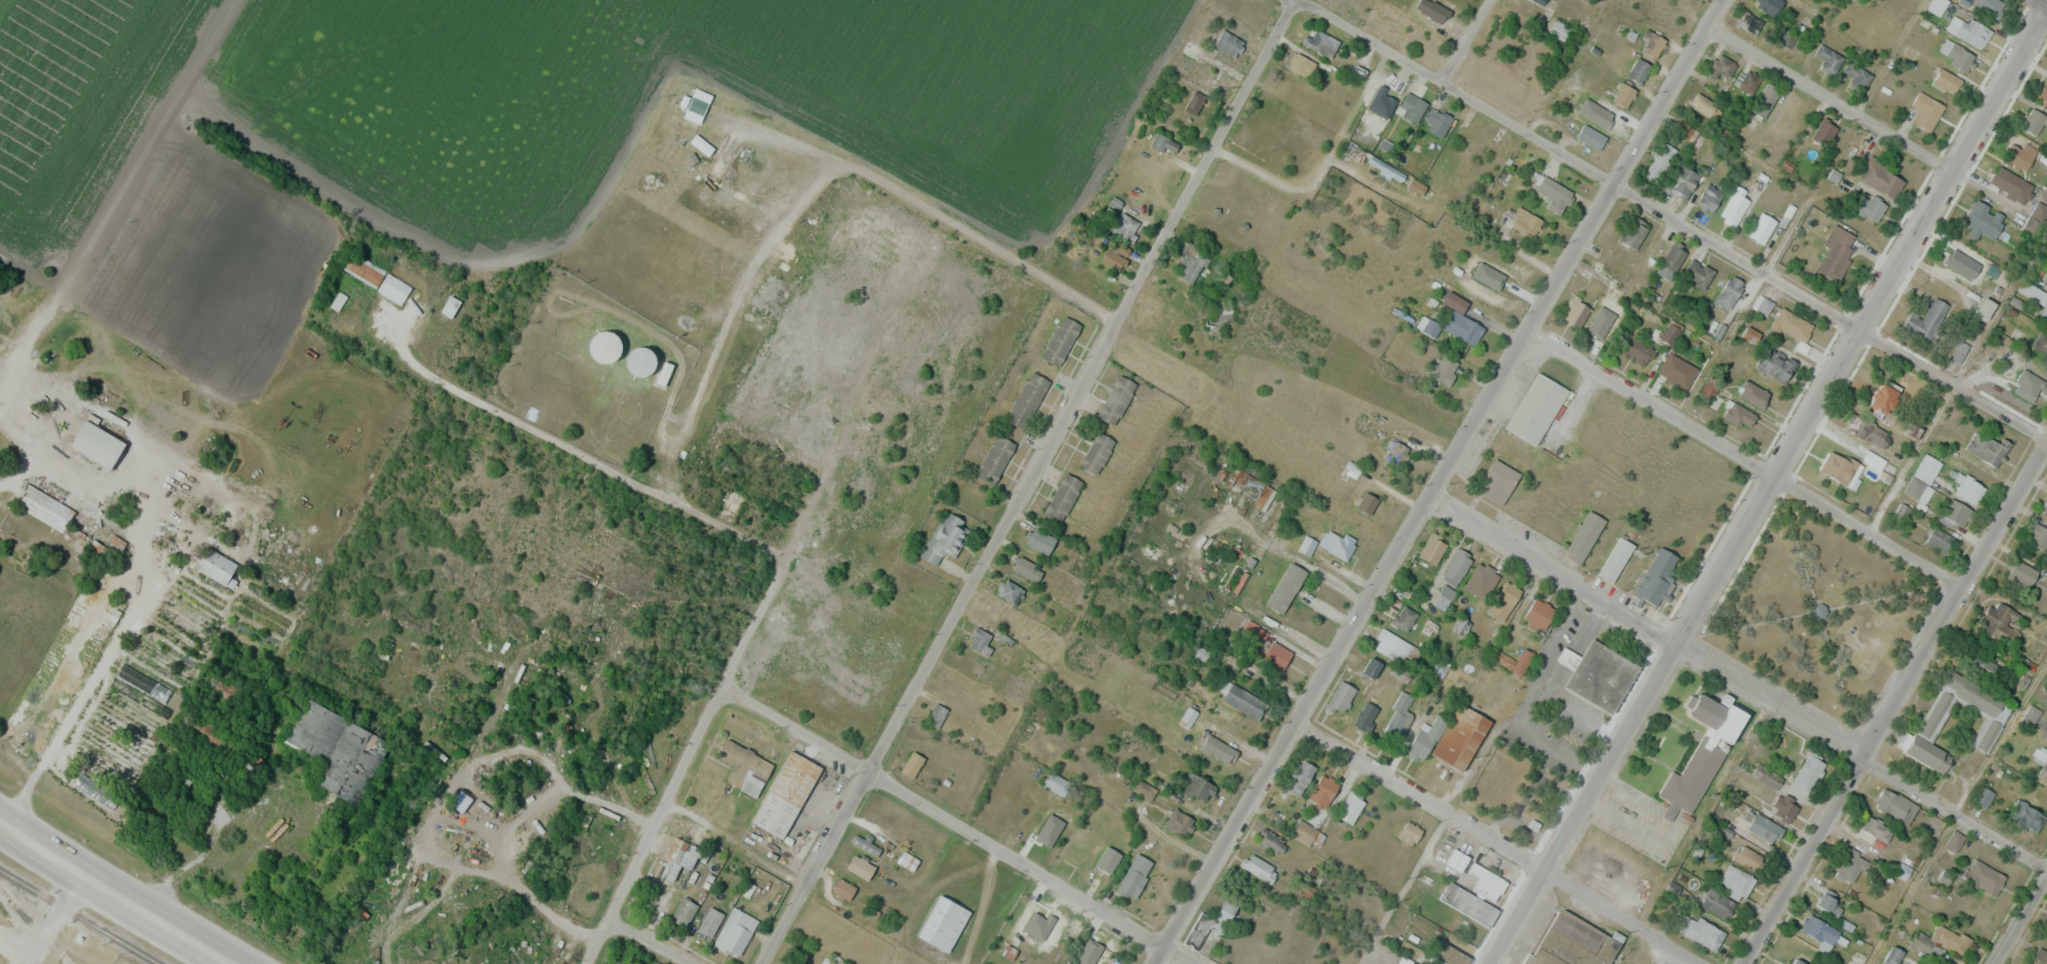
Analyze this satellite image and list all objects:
building: (1532, 0)
road: (2043, 1)
building: (1768, 5)
building: (1989, 7)
building: (1433, 10)
building: (1749, 22)
building: (1558, 29)
building: (1972, 29)
building: (1786, 37)
road: (1468, 40)
building: (1228, 42)
building: (1321, 42)
building: (1652, 43)
building: (1193, 49)
building: (1956, 53)
building: (1828, 55)
building: (1301, 64)
building: (1722, 66)
building: (1638, 70)
building: (1856, 74)
building: (1946, 80)
building: (1748, 82)
building: (2042, 93)
building: (1623, 95)
road: (1828, 98)
building: (1764, 101)
building: (1194, 102)
building: (1378, 102)
building: (1703, 104)
building: (1411, 107)
building: (1927, 110)
building: (2034, 121)
building: (1437, 122)
building: (1824, 131)
building: (1591, 136)
building: (1164, 143)
building: (2020, 154)
building: (1662, 159)
building: (1386, 169)
building: (1881, 178)
building: (1684, 179)
building: (2011, 184)
building: (1416, 186)
building: (1555, 193)
building: (1709, 196)
building: (1735, 206)
building: (1870, 206)
building: (2036, 217)
building: (1984, 219)
road: (1671, 220)
building: (1526, 221)
building: (1126, 227)
building: (1762, 227)
building: (1634, 231)
building: (1836, 252)
building: (1114, 254)
building: (1674, 255)
building: (1960, 261)
building: (1190, 264)
building: (1698, 272)
building: (365, 273)
building: (1488, 280)
building: (1099, 284)
building: (1729, 291)
building: (2034, 295)
building: (1762, 305)
building: (1985, 308)
building: (1576, 311)
building: (1219, 316)
building: (1927, 319)
building: (1792, 325)
building: (1600, 326)
building: (1462, 327)
building: (1669, 332)
building: (1060, 340)
building: (2041, 343)
building: (604, 346)
building: (1635, 350)
building: (1959, 351)
building: (640, 361)
building: (1981, 361)
building: (1775, 364)
building: (1445, 370)
building: (1677, 370)
building: (2023, 381)
building: (1754, 394)
building: (1884, 396)
building: (1116, 399)
building: (1027, 400)
building: (1536, 412)
building: (1739, 415)
building: (1867, 430)
building: (1986, 447)
building: (99, 449)
building: (1097, 452)
building: (1398, 453)
building: (995, 459)
road: (1745, 461)
building: (1840, 467)
building: (1922, 478)
building: (1498, 481)
road: (1029, 482)
road: (1442, 484)
road: (1764, 484)
building: (1251, 488)
building: (1970, 489)
building: (1062, 497)
building: (975, 498)
building: (1366, 502)
building: (43, 507)
building: (2045, 511)
building: (1583, 537)
building: (2038, 537)
building: (945, 538)
building: (1040, 540)
building: (1938, 540)
building: (1306, 545)
building: (1341, 545)
building: (1434, 546)
building: (210, 562)
building: (1614, 562)
building: (1456, 565)
building: (1027, 569)
building: (2021, 574)
road: (1324, 577)
building: (1655, 579)
building: (1480, 581)
building: (1285, 589)
building: (1008, 591)
building: (1443, 597)
building: (1505, 599)
building: (1538, 614)
park: (1817, 614)
building: (1404, 618)
building: (1461, 624)
building: (1999, 624)
building: (979, 641)
building: (1391, 645)
building: (1277, 655)
building: (1521, 661)
building: (1979, 663)
building: (1372, 668)
building: (1438, 670)
building: (1601, 680)
road: (1739, 680)
building: (1340, 697)
road: (718, 700)
building: (1242, 700)
road: (1889, 702)
building: (937, 715)
building: (1186, 716)
building: (1365, 716)
building: (1399, 717)
building: (1989, 728)
building: (315, 731)
building: (213, 736)
building: (1450, 738)
building: (1217, 748)
building: (1702, 753)
building: (912, 764)
building: (744, 767)
building: (2044, 767)
building: (1807, 772)
building: (181, 775)
building: (1299, 777)
building: (1056, 783)
building: (1198, 787)
building: (1143, 789)
building: (1322, 792)
building: (1984, 795)
building: (786, 799)
building: (1895, 805)
building: (1351, 806)
building: (1784, 807)
building: (2028, 815)
building: (1179, 823)
building: (1934, 823)
road: (958, 824)
building: (1763, 827)
building: (1050, 828)
building: (1874, 828)
building: (1303, 832)
building: (1408, 832)
building: (1269, 840)
building: (1954, 840)
road: (1497, 841)
building: (866, 845)
building: (1747, 857)
building: (677, 860)
building: (1457, 860)
building: (908, 861)
building: (1603, 865)
building: (860, 866)
building: (1850, 866)
building: (1259, 867)
building: (1983, 877)
building: (1736, 880)
building: (1131, 881)
building: (1487, 882)
building: (843, 889)
road: (116, 894)
building: (1831, 903)
building: (1469, 904)
building: (1717, 904)
building: (1228, 909)
building: (684, 910)
railway: (80, 916)
road: (2020, 919)
road: (62, 920)
building: (1039, 921)
building: (709, 922)
building: (945, 928)
building: (1198, 930)
building: (1699, 931)
building: (1819, 931)
building: (735, 932)
building: (1940, 942)
road: (646, 945)
building: (1573, 945)
building: (1093, 947)
building: (1449, 955)
building: (1892, 955)
building: (2039, 957)
building: (1403, 960)
building: (1798, 961)
building: (807, 963)

